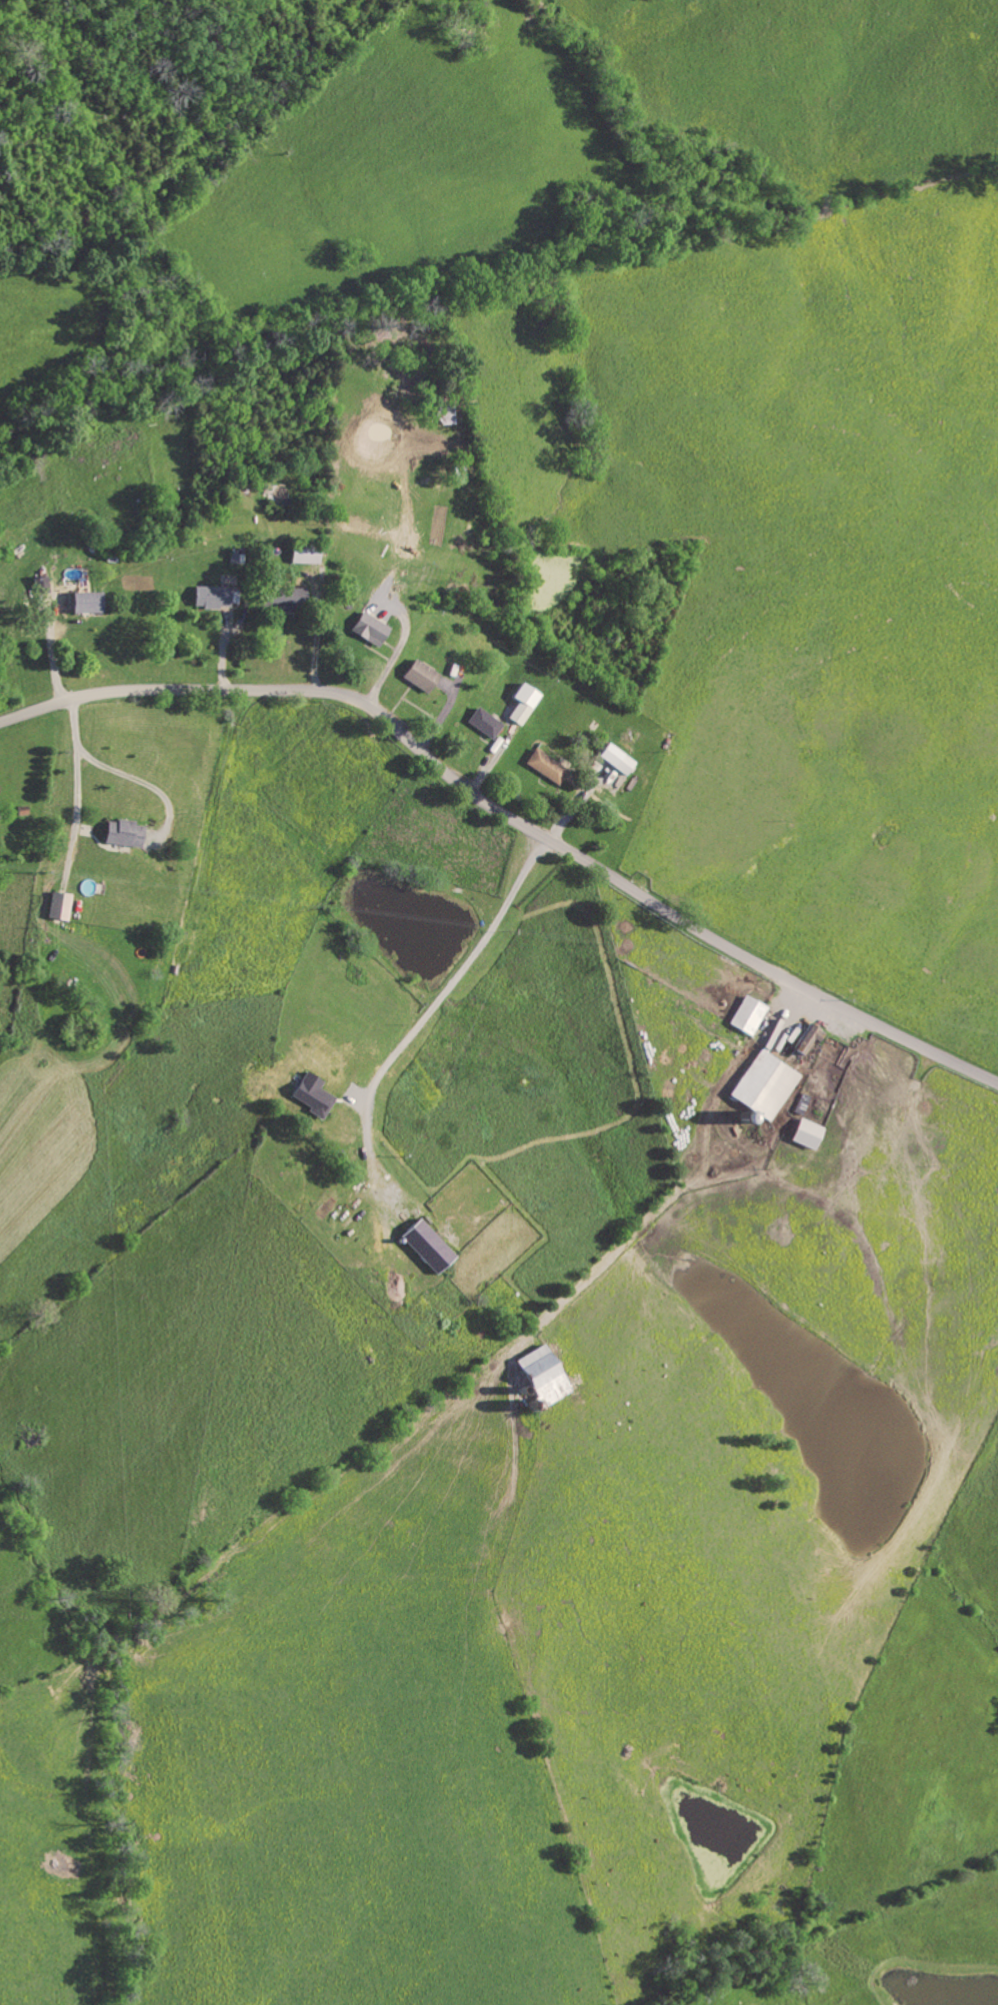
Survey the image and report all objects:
building: (301, 555)
building: (38, 586)
building: (210, 598)
building: (281, 602)
building: (85, 604)
building: (367, 631)
road: (314, 645)
road: (50, 653)
road: (391, 660)
building: (417, 677)
building: (521, 705)
building: (482, 724)
building: (614, 760)
road: (74, 765)
building: (544, 768)
building: (590, 784)
road: (510, 815)
building: (121, 835)
building: (58, 908)
building: (745, 1017)
building: (806, 1041)
building: (763, 1087)
building: (311, 1097)
building: (805, 1135)
building: (425, 1248)
building: (540, 1379)

